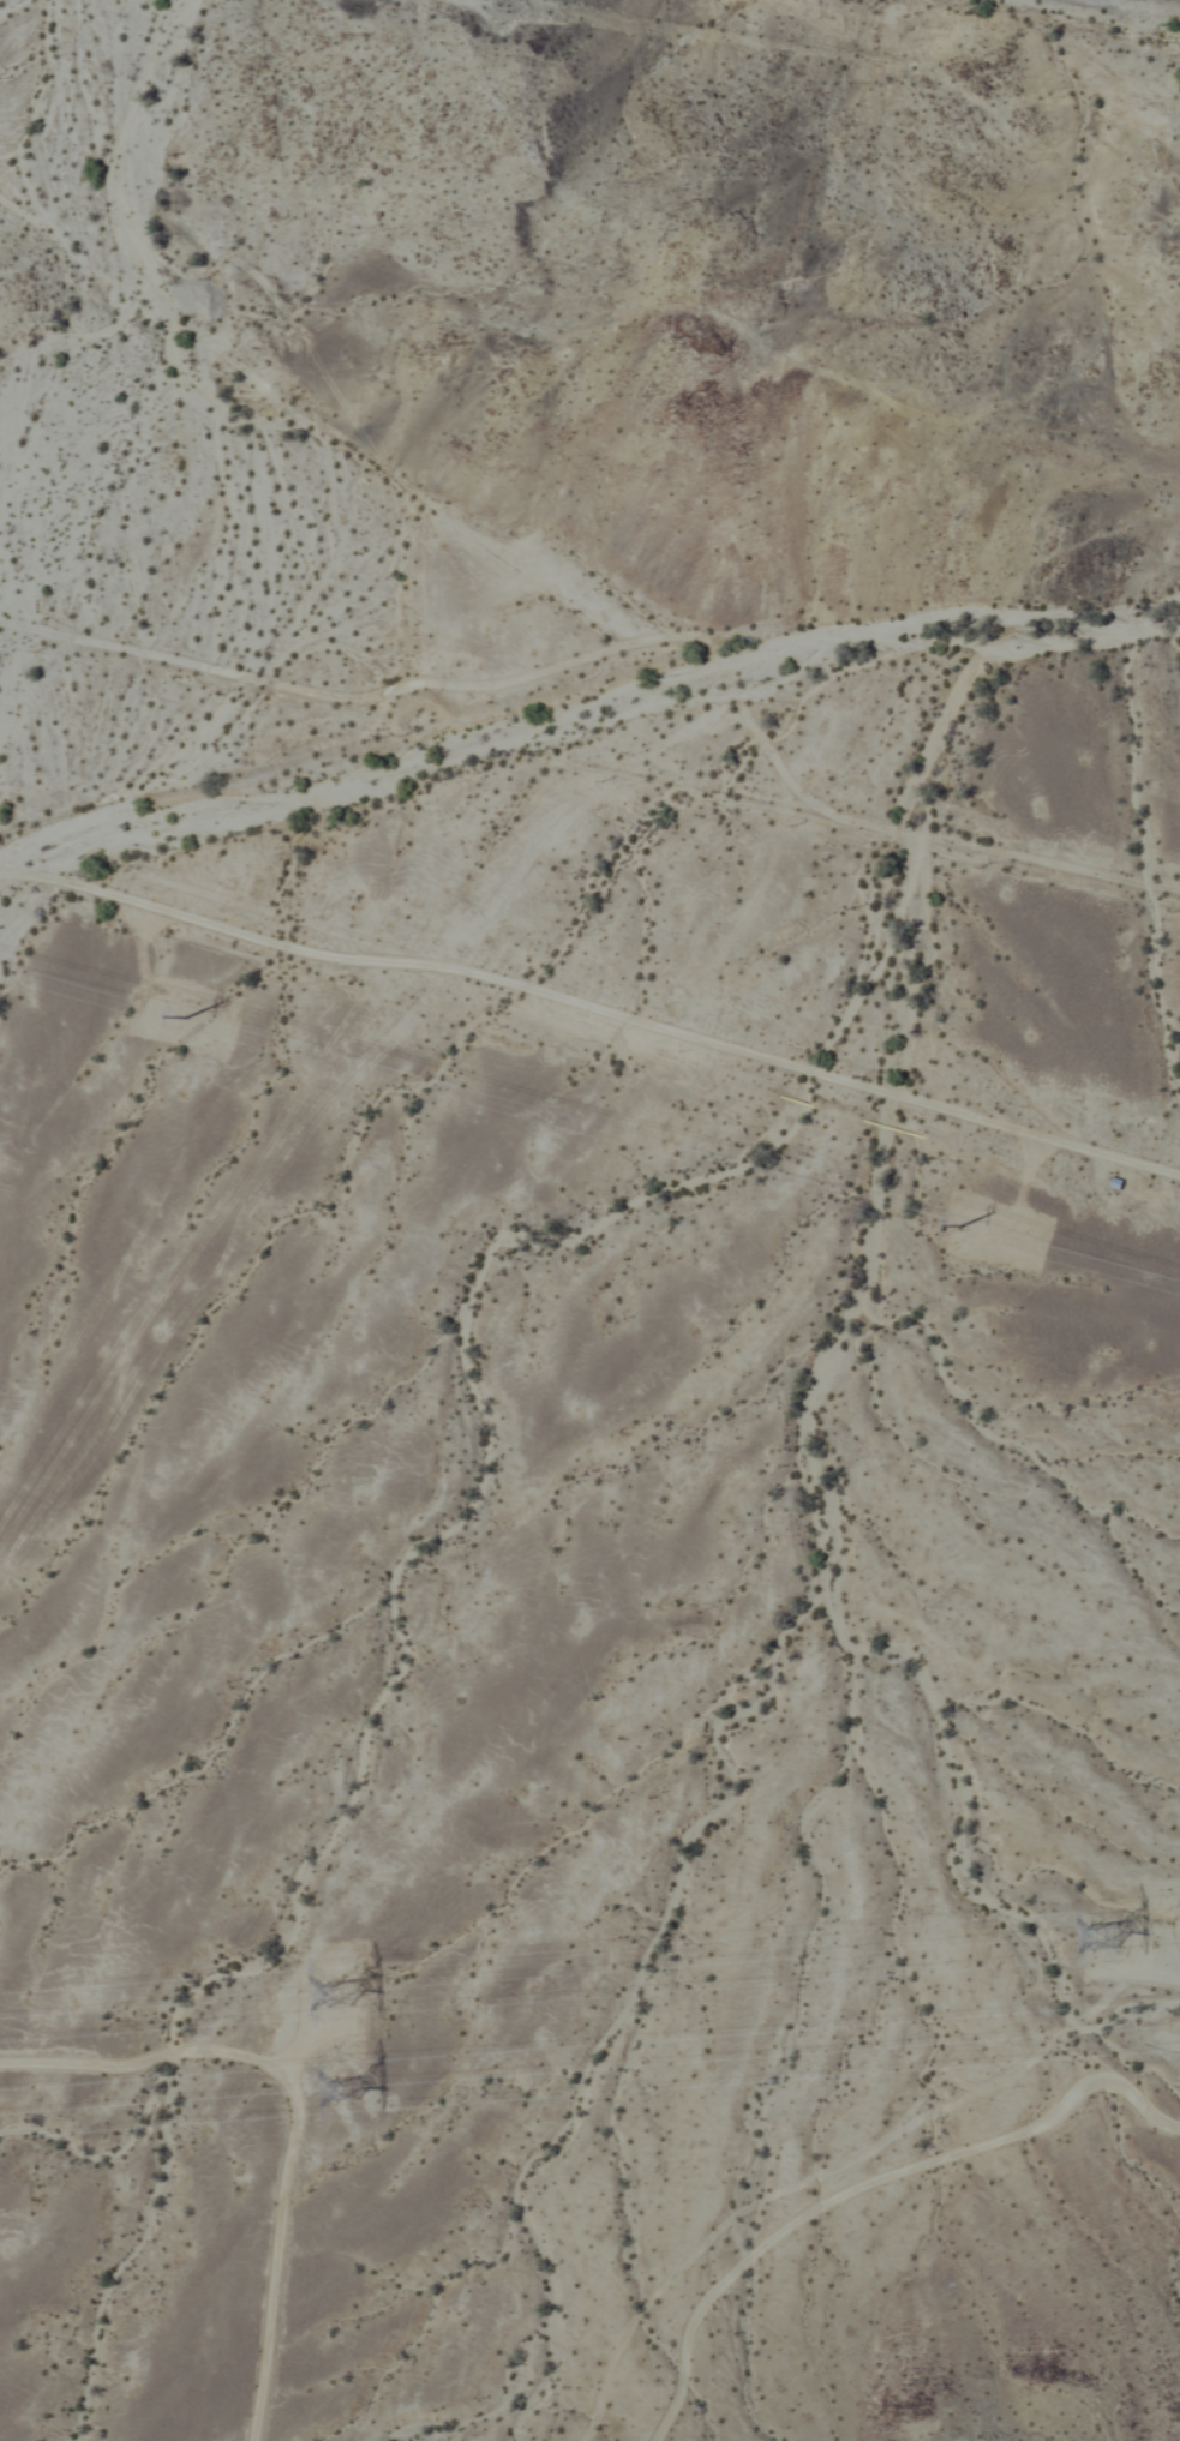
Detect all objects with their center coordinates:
road: (462, 689)
road: (1008, 854)
road: (592, 1013)
building: (1118, 1183)
power tower: (1100, 1945)
power tower: (324, 1991)
power tower: (339, 2082)

